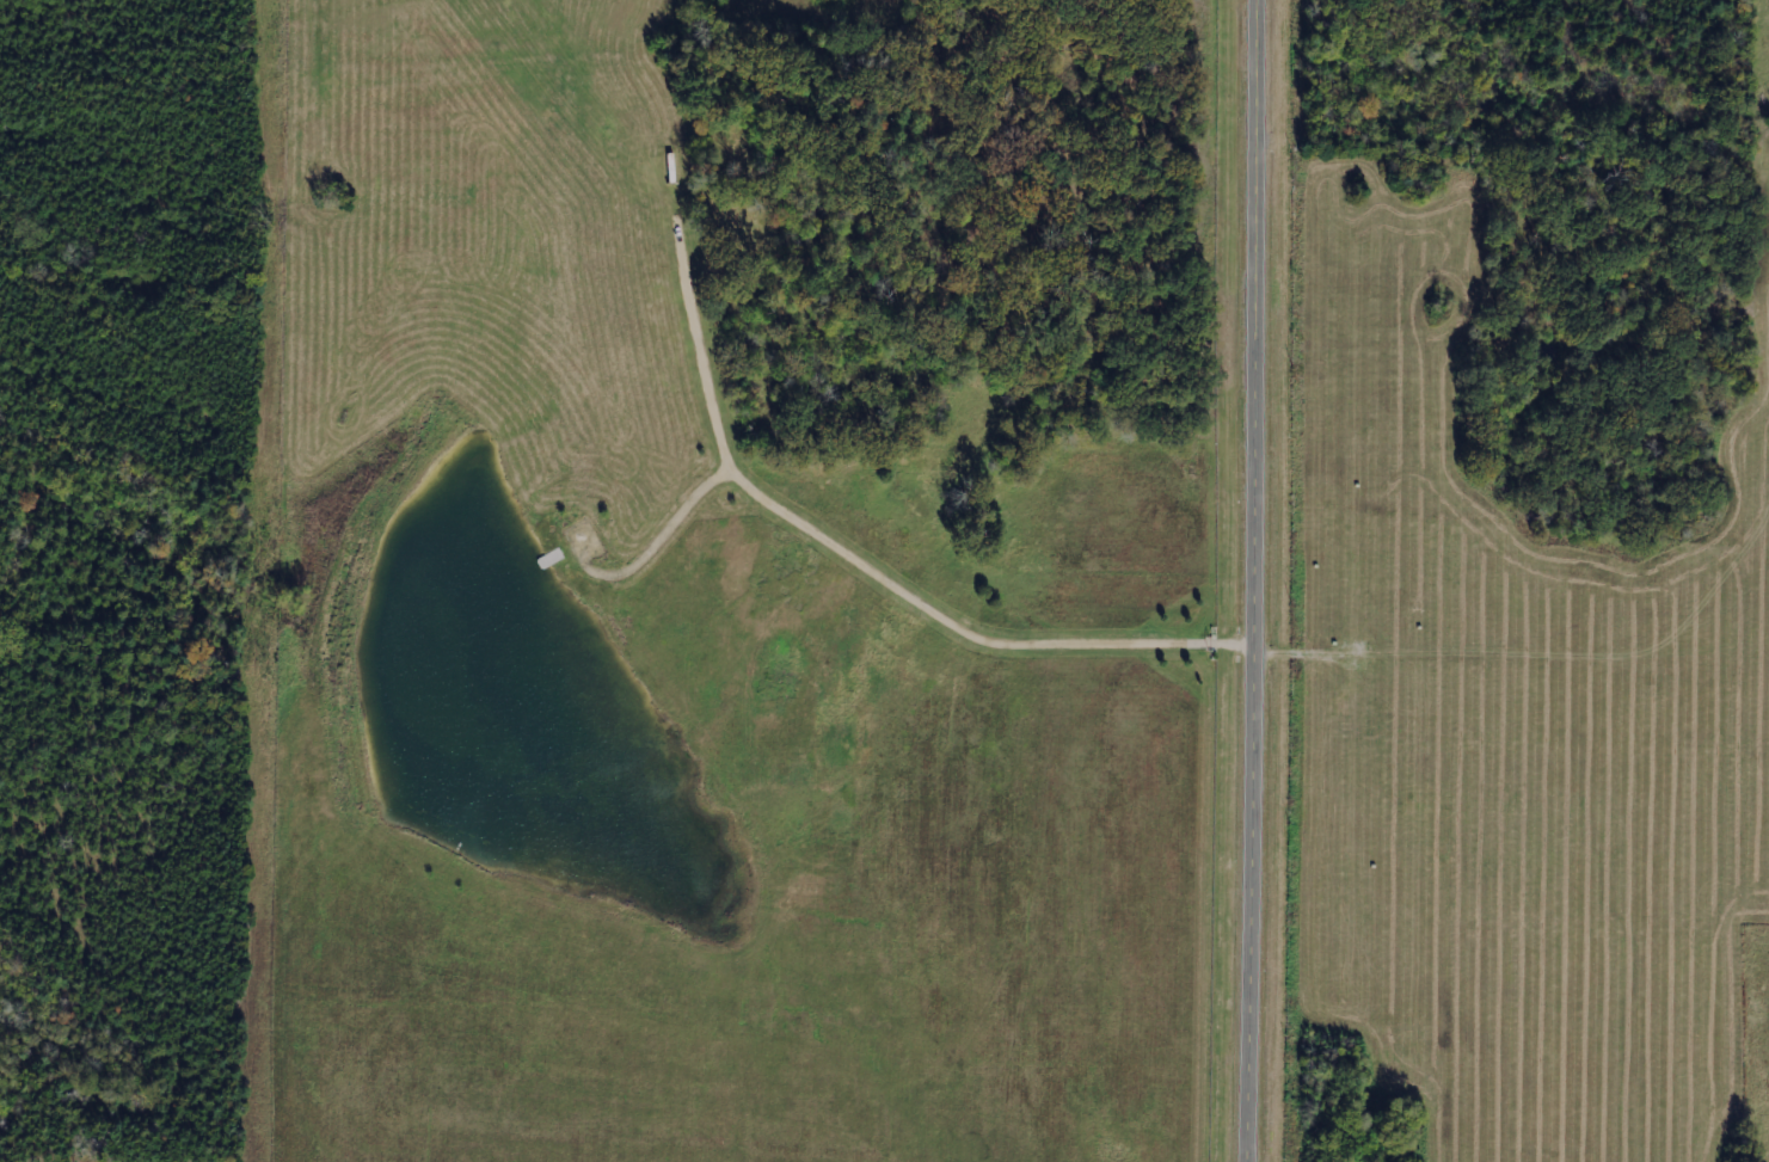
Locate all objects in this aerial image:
road: (1247, 580)

